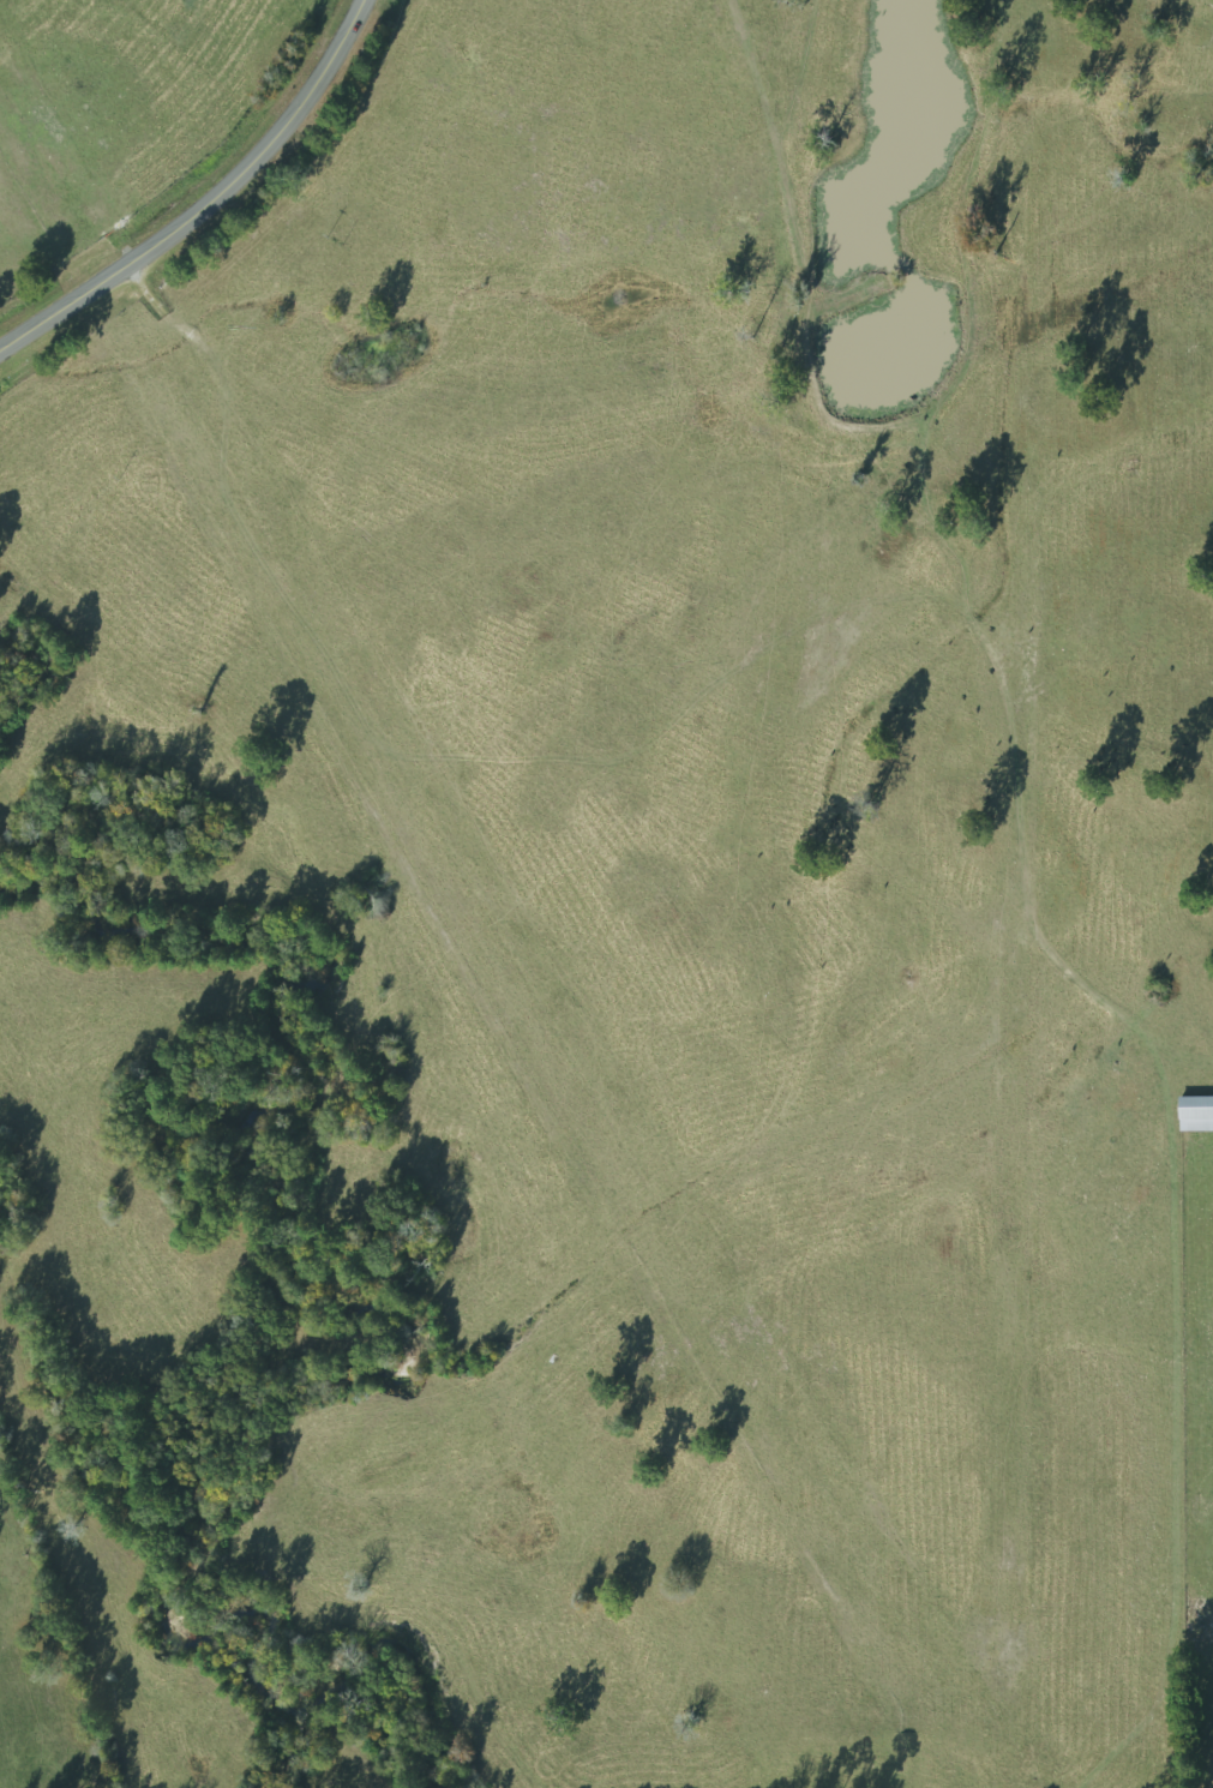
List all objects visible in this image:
road: (206, 200)
building: (1195, 1115)

